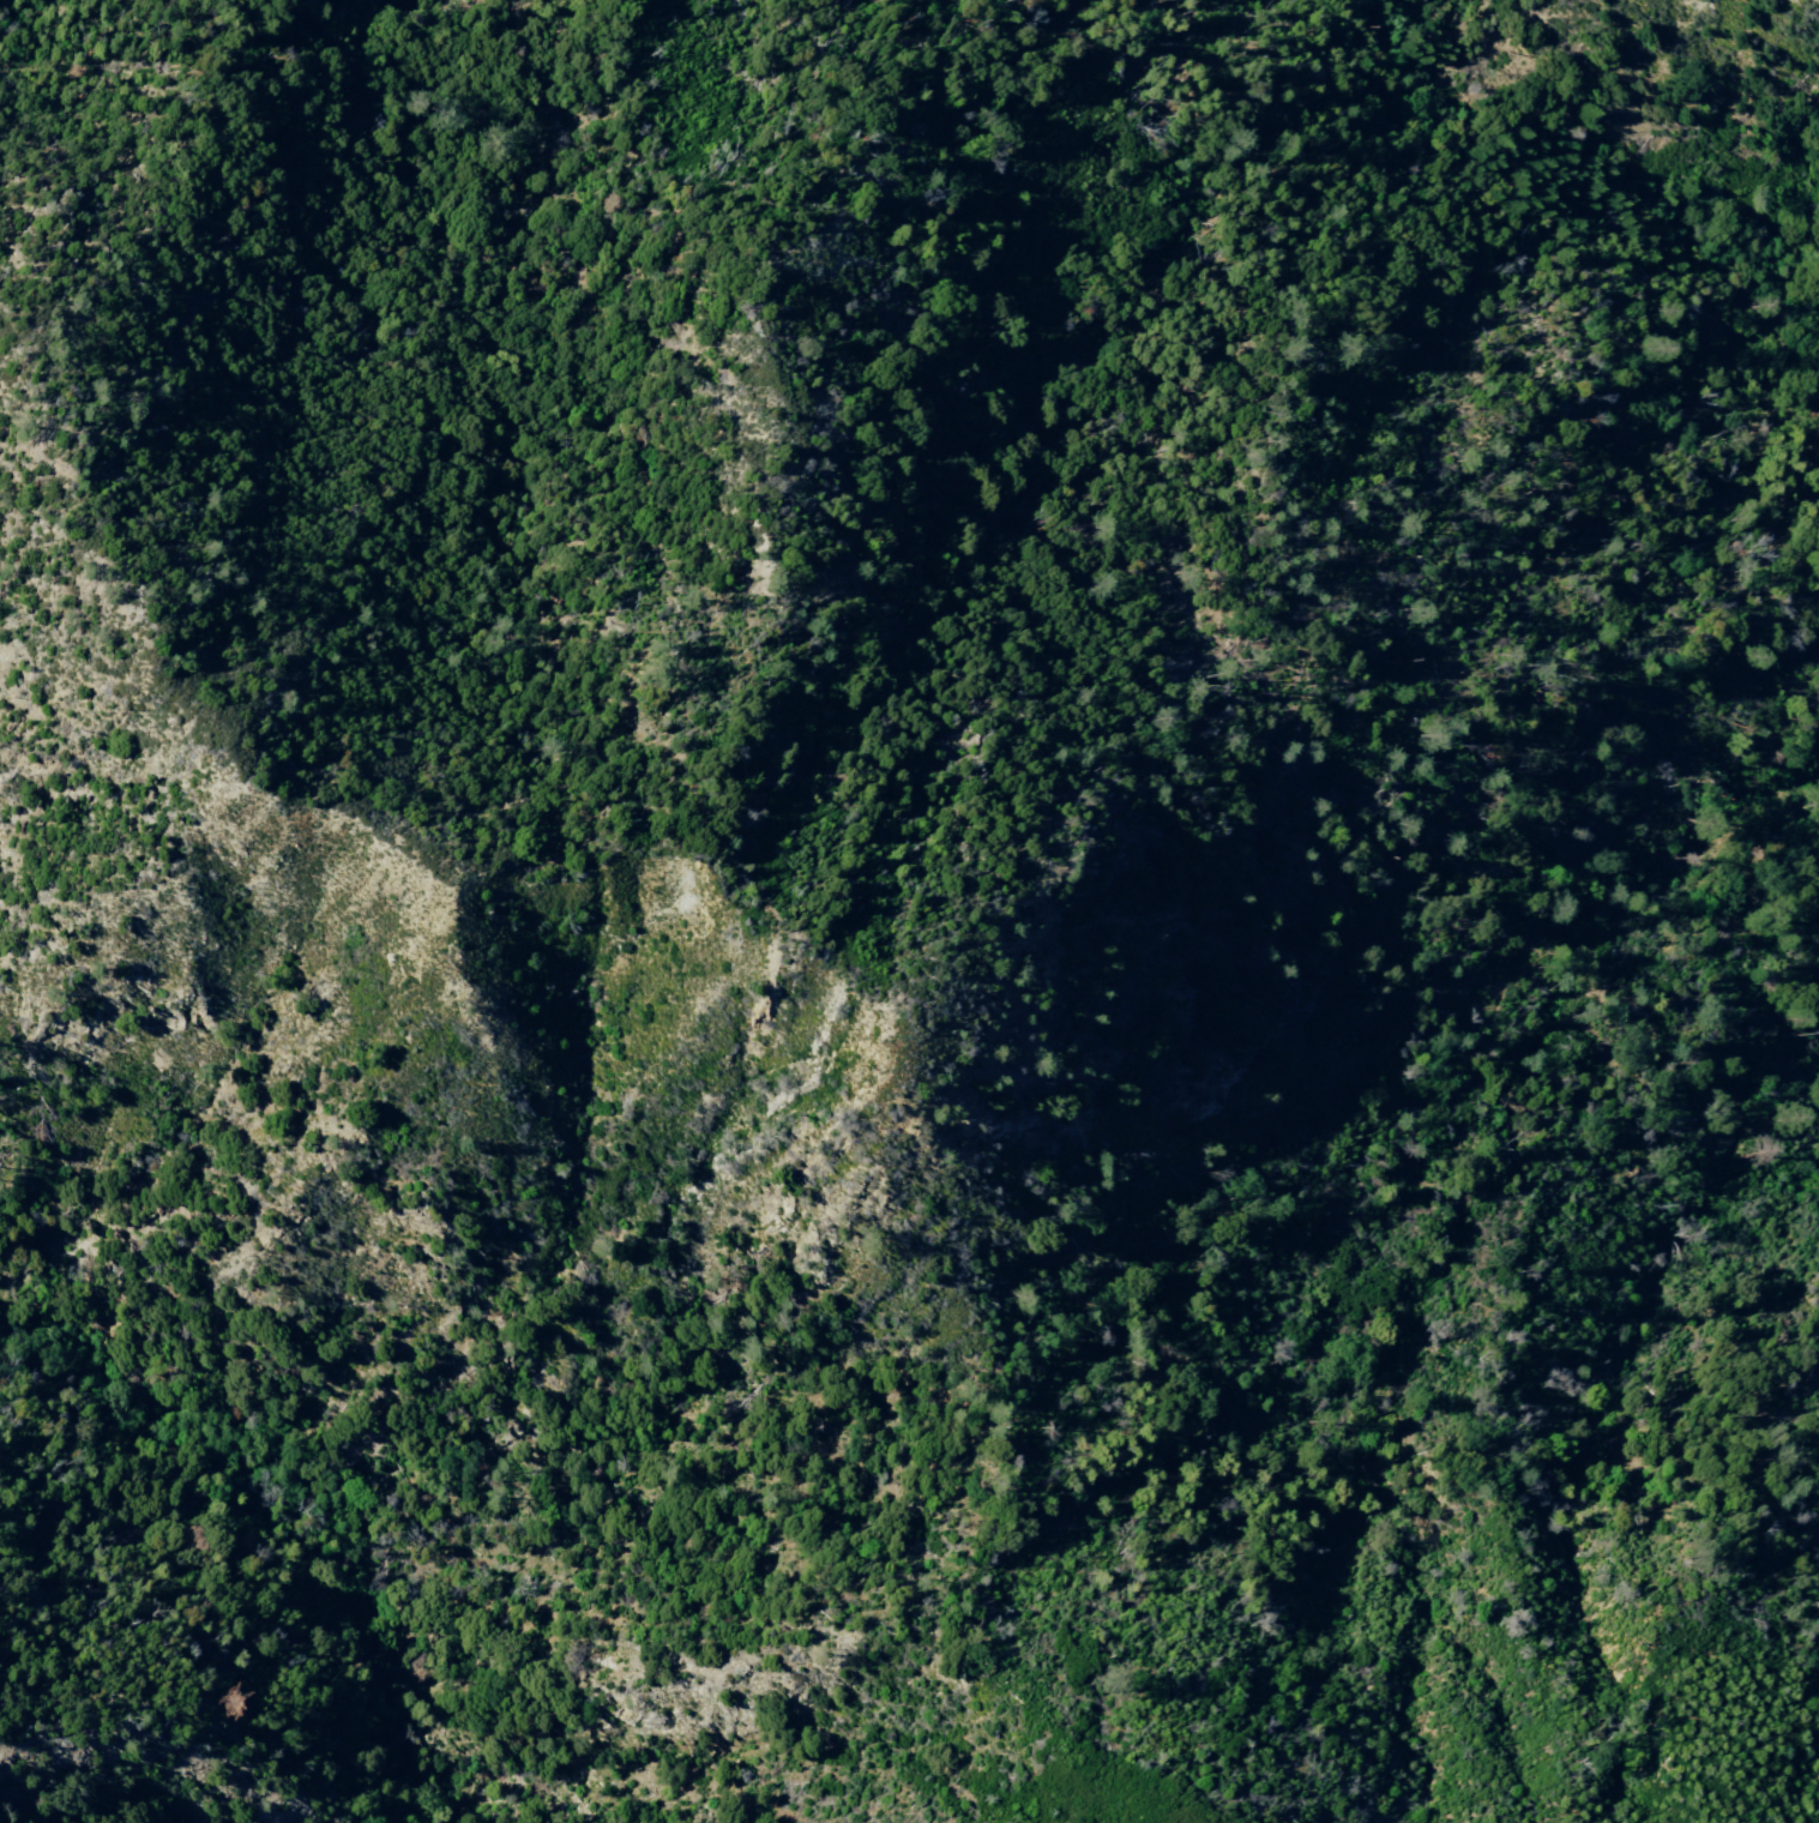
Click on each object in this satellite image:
road: (1555, 191)

